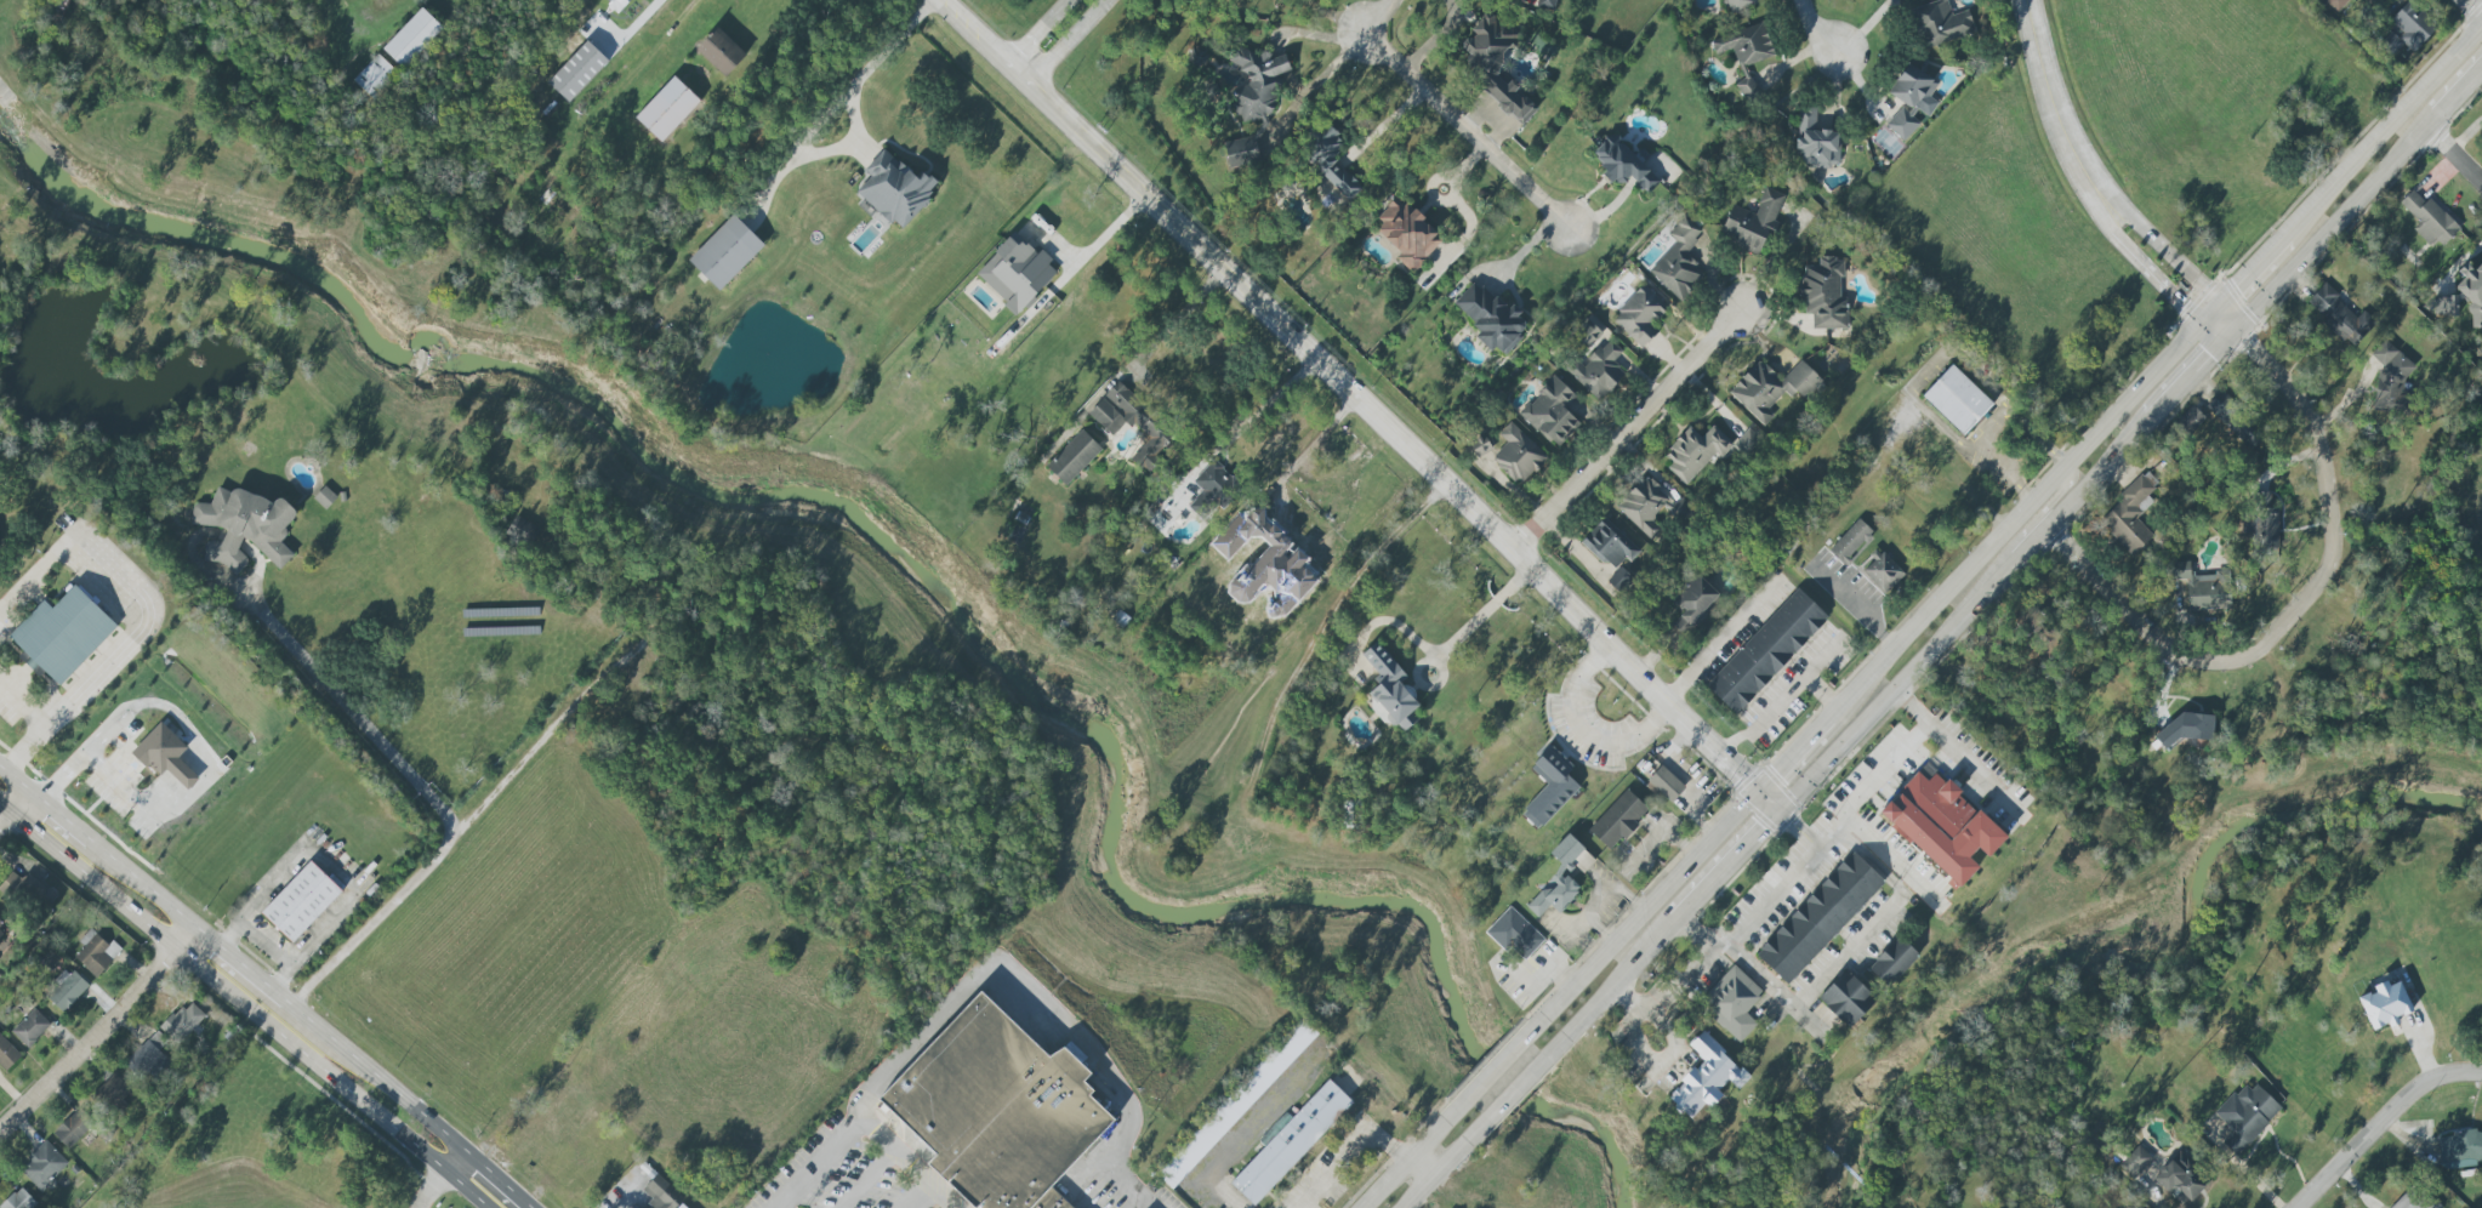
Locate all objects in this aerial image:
building: (271, 0)
building: (2367, 1)
building: (1545, 4)
building: (1738, 4)
building: (2335, 4)
building: (616, 5)
road: (2474, 7)
road: (650, 13)
road: (674, 21)
building: (1940, 23)
road: (1866, 27)
building: (2408, 28)
road: (1812, 29)
road: (1435, 38)
building: (414, 39)
road: (1052, 40)
building: (1744, 45)
building: (721, 51)
building: (1495, 64)
building: (577, 70)
building: (375, 76)
building: (1258, 84)
building: (1747, 87)
road: (2459, 90)
building: (1911, 101)
road: (2049, 101)
building: (667, 109)
road: (1451, 113)
road: (822, 114)
road: (2380, 127)
building: (1815, 142)
building: (1241, 152)
road: (2454, 153)
building: (1327, 164)
building: (1622, 164)
building: (894, 189)
building: (2429, 218)
building: (1753, 221)
road: (2333, 223)
building: (1407, 234)
road: (1100, 237)
road: (2157, 246)
building: (725, 252)
building: (1678, 261)
road: (2140, 262)
road: (2244, 272)
building: (1015, 273)
building: (1823, 295)
building: (2464, 296)
building: (1639, 315)
building: (2339, 315)
building: (1490, 318)
road: (1171, 323)
building: (1595, 363)
road: (1919, 372)
road: (2188, 376)
building: (2390, 380)
building: (1770, 388)
building: (1956, 399)
road: (1356, 406)
building: (1550, 411)
building: (2231, 415)
road: (1243, 416)
building: (1132, 422)
road: (1624, 433)
building: (1747, 441)
building: (1478, 446)
building: (1692, 452)
road: (2118, 452)
building: (1518, 454)
building: (1075, 457)
building: (1213, 490)
building: (324, 496)
building: (342, 496)
building: (1645, 506)
road: (2068, 507)
road: (2042, 512)
building: (2130, 514)
building: (249, 519)
building: (2261, 520)
building: (1850, 541)
building: (1609, 545)
road: (2032, 545)
building: (1264, 560)
building: (1882, 572)
building: (1618, 579)
building: (2203, 587)
road: (133, 591)
road: (2307, 596)
building: (1692, 602)
road: (1475, 620)
building: (2040, 629)
building: (62, 632)
road: (1721, 640)
building: (1766, 650)
road: (1875, 666)
road: (1900, 686)
building: (1390, 688)
road: (1820, 693)
road: (1781, 700)
road: (345, 711)
road: (49, 722)
road: (1583, 731)
road: (200, 743)
building: (165, 754)
road: (1888, 767)
road: (69, 769)
road: (1974, 769)
road: (11, 776)
building: (1666, 784)
road: (121, 787)
building: (1549, 787)
traffic signals: (1760, 788)
road: (10, 799)
road: (55, 813)
traffic signals: (1784, 813)
building: (1353, 815)
building: (1617, 819)
building: (1940, 825)
road: (1663, 833)
road: (1746, 853)
building: (1582, 861)
road: (420, 866)
road: (330, 868)
building: (1558, 879)
road: (136, 884)
building: (27, 890)
road: (1769, 895)
building: (302, 902)
road: (1693, 906)
building: (1818, 917)
building: (1, 929)
building: (1514, 934)
road: (263, 946)
road: (1848, 950)
building: (95, 952)
road: (220, 953)
building: (1892, 962)
road: (1014, 979)
road: (1624, 979)
road: (223, 987)
building: (66, 990)
road: (1669, 990)
road: (267, 993)
building: (1845, 998)
building: (1731, 1002)
building: (2384, 1004)
building: (182, 1022)
building: (30, 1027)
road: (97, 1035)
building: (7, 1054)
building: (146, 1056)
road: (1492, 1069)
road: (374, 1077)
building: (1704, 1077)
road: (1519, 1090)
building: (114, 1093)
building: (1236, 1105)
building: (994, 1110)
building: (2245, 1115)
road: (2379, 1122)
building: (73, 1128)
road: (1242, 1136)
building: (1288, 1143)
building: (2461, 1149)
road: (1349, 1156)
road: (904, 1158)
building: (2135, 1161)
road: (456, 1162)
road: (1402, 1164)
building: (42, 1166)
road: (812, 1169)
road: (1421, 1169)
road: (1438, 1175)
road: (870, 1179)
building: (2179, 1179)
road: (496, 1180)
road: (428, 1187)
road: (466, 1190)
road: (1126, 1191)
building: (661, 1192)
road: (920, 1197)
building: (1048, 1201)
building: (17, 1207)
building: (655, 1207)
building: (682, 1207)

